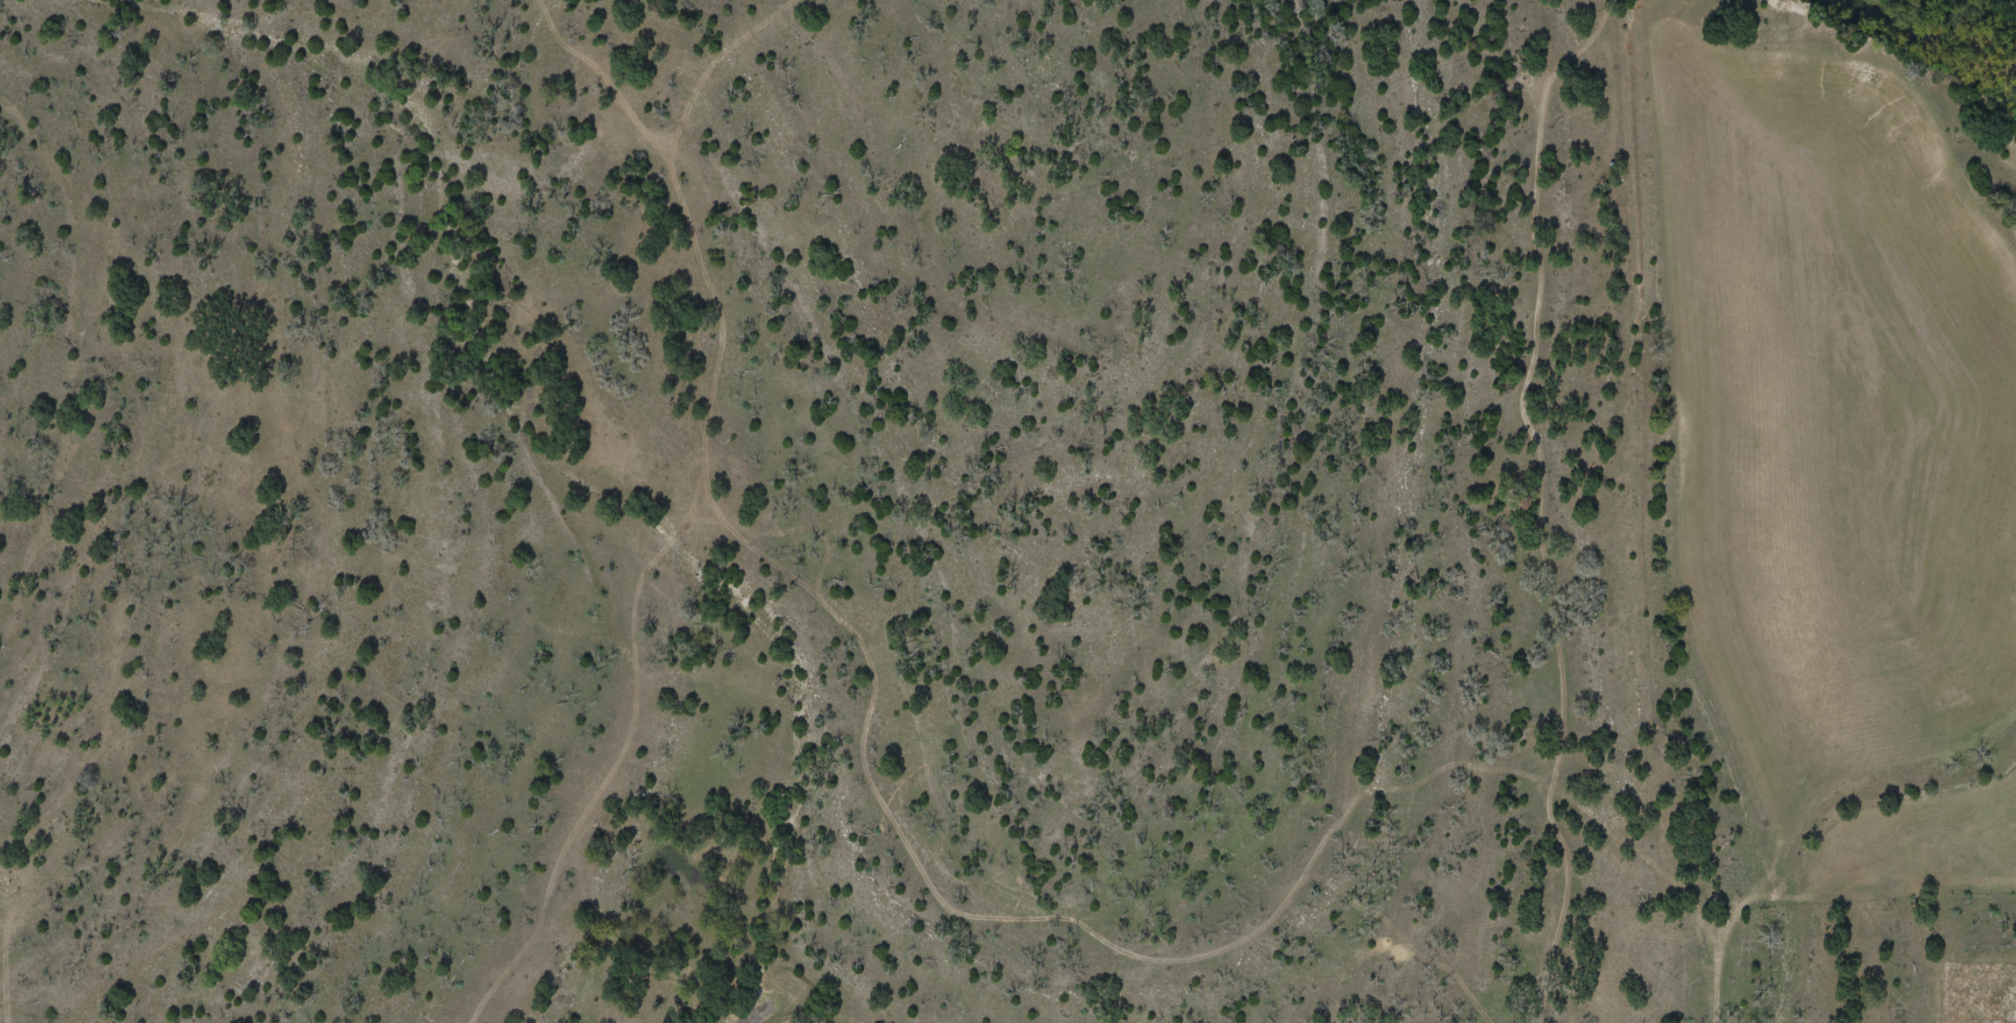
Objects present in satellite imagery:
park: (1979, 993)

